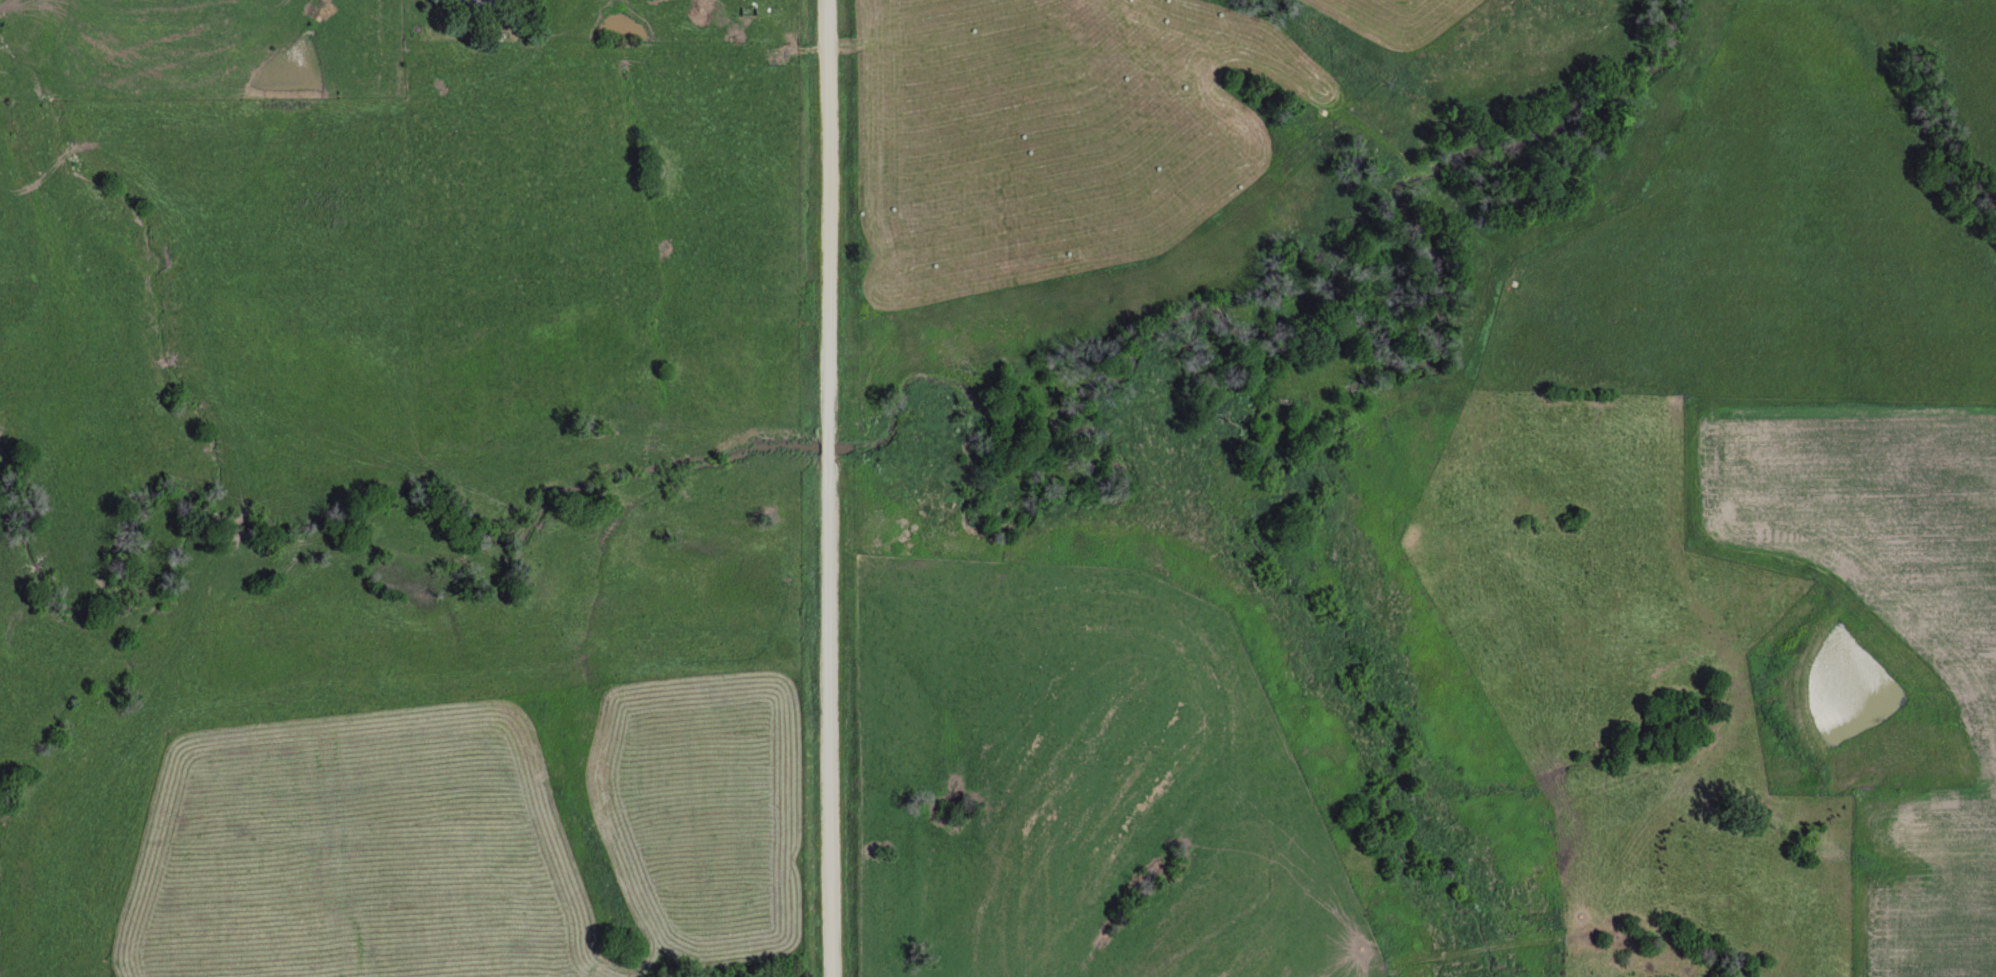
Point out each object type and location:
road: (828, 488)

